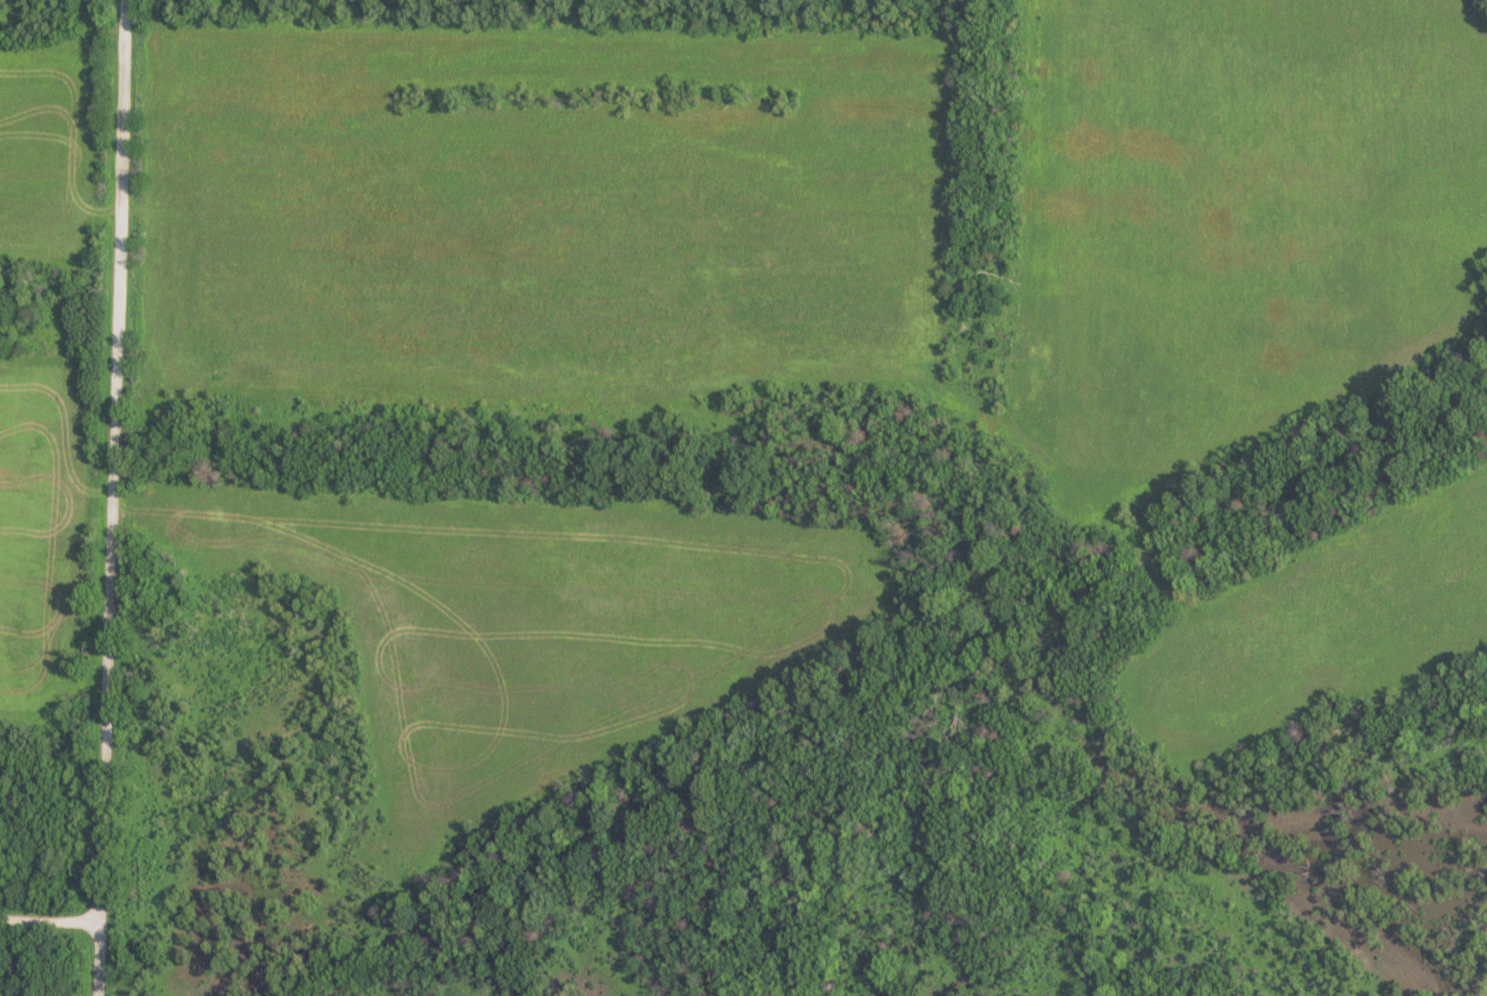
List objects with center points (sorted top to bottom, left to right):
road: (114, 498)
road: (53, 921)

